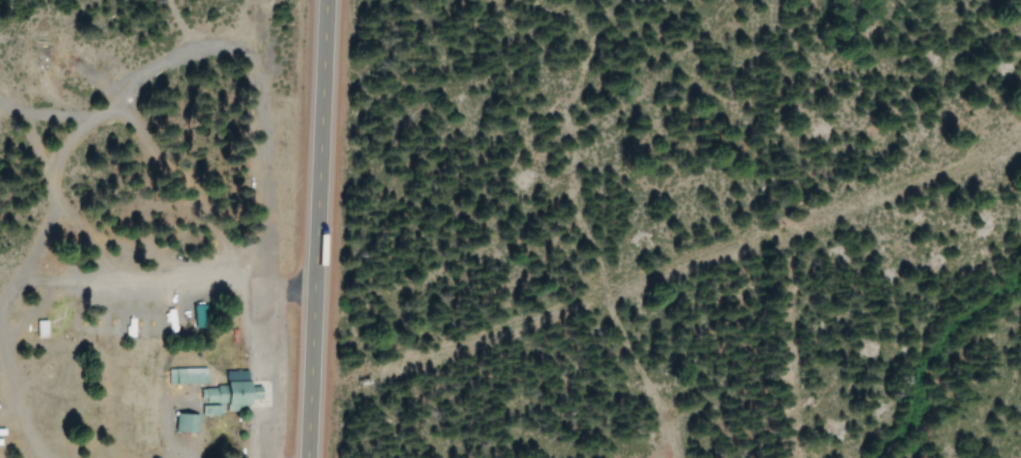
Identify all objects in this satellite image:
road: (314, 229)
building: (184, 375)
building: (225, 390)
building: (181, 424)

